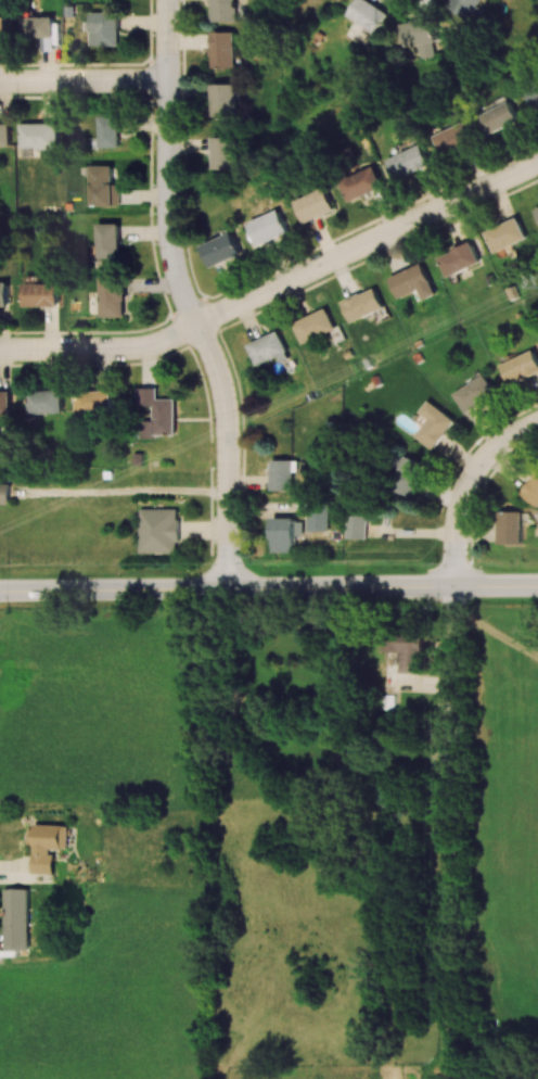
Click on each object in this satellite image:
building: (462, 7)
building: (222, 10)
building: (364, 14)
building: (37, 26)
building: (2, 27)
building: (101, 28)
building: (415, 36)
building: (221, 49)
road: (82, 81)
building: (535, 96)
building: (221, 99)
building: (500, 114)
building: (107, 130)
building: (4, 134)
building: (38, 135)
building: (454, 140)
building: (222, 152)
building: (408, 162)
building: (361, 182)
building: (102, 186)
building: (315, 205)
building: (536, 211)
building: (269, 227)
building: (505, 238)
building: (107, 240)
building: (221, 249)
building: (459, 258)
building: (412, 281)
road: (276, 285)
building: (39, 294)
building: (111, 295)
building: (3, 296)
road: (182, 296)
building: (363, 305)
building: (315, 325)
building: (268, 348)
building: (522, 367)
building: (474, 393)
building: (44, 401)
building: (4, 402)
building: (93, 402)
building: (157, 412)
building: (434, 424)
building: (283, 473)
building: (409, 475)
road: (466, 487)
building: (533, 490)
building: (4, 493)
road: (131, 493)
building: (317, 518)
building: (356, 526)
building: (510, 526)
building: (157, 530)
building: (284, 534)
road: (382, 585)
road: (113, 589)
building: (406, 649)
road: (456, 789)
building: (46, 846)
building: (15, 921)
road: (458, 1037)

